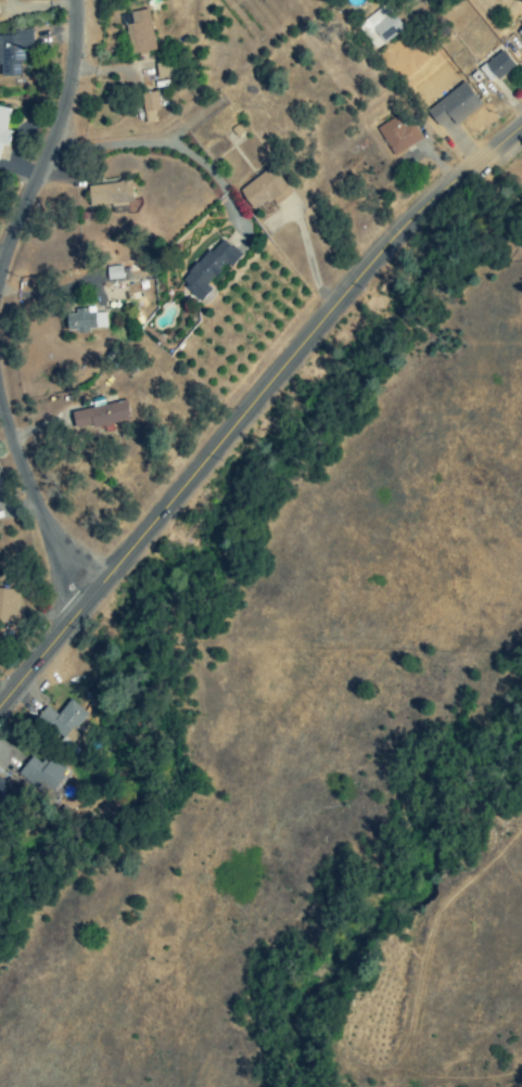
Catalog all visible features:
building: (380, 26)
building: (140, 29)
building: (519, 33)
building: (13, 53)
building: (497, 66)
building: (457, 105)
building: (149, 107)
building: (3, 127)
building: (399, 133)
road: (51, 140)
road: (163, 142)
building: (265, 189)
building: (110, 194)
building: (208, 268)
building: (113, 273)
building: (84, 321)
road: (251, 406)
building: (100, 415)
road: (37, 501)
building: (7, 604)
building: (63, 720)
building: (41, 775)
building: (4, 792)

